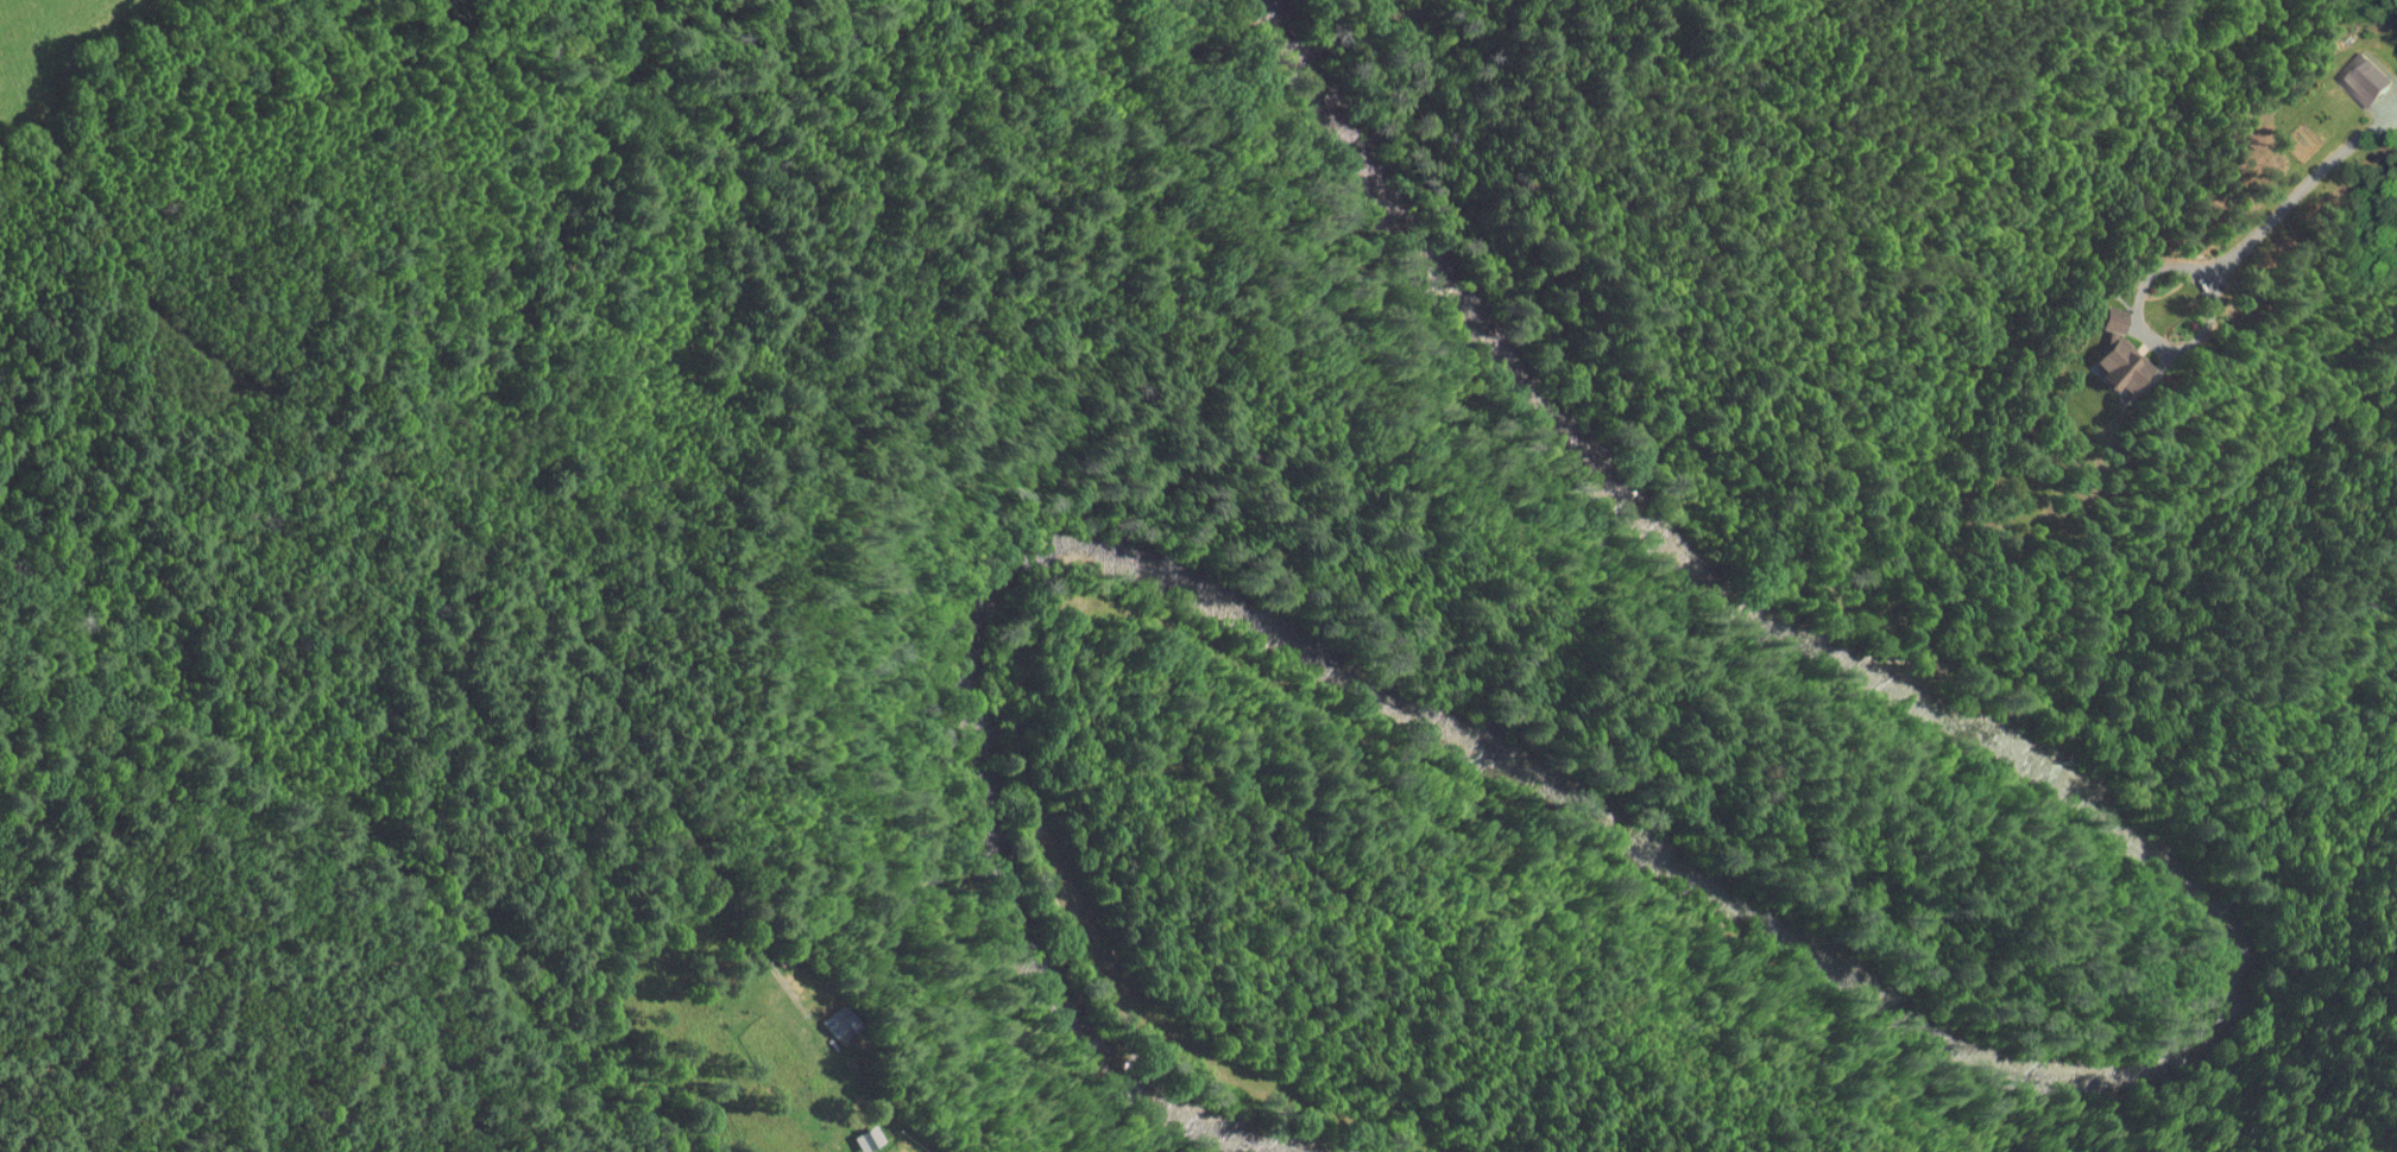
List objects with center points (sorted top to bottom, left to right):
river: (1291, 59)
building: (2351, 72)
road: (2298, 191)
building: (2098, 311)
building: (2103, 357)
road: (423, 515)
river: (1698, 543)
river: (1458, 722)
building: (852, 1129)

